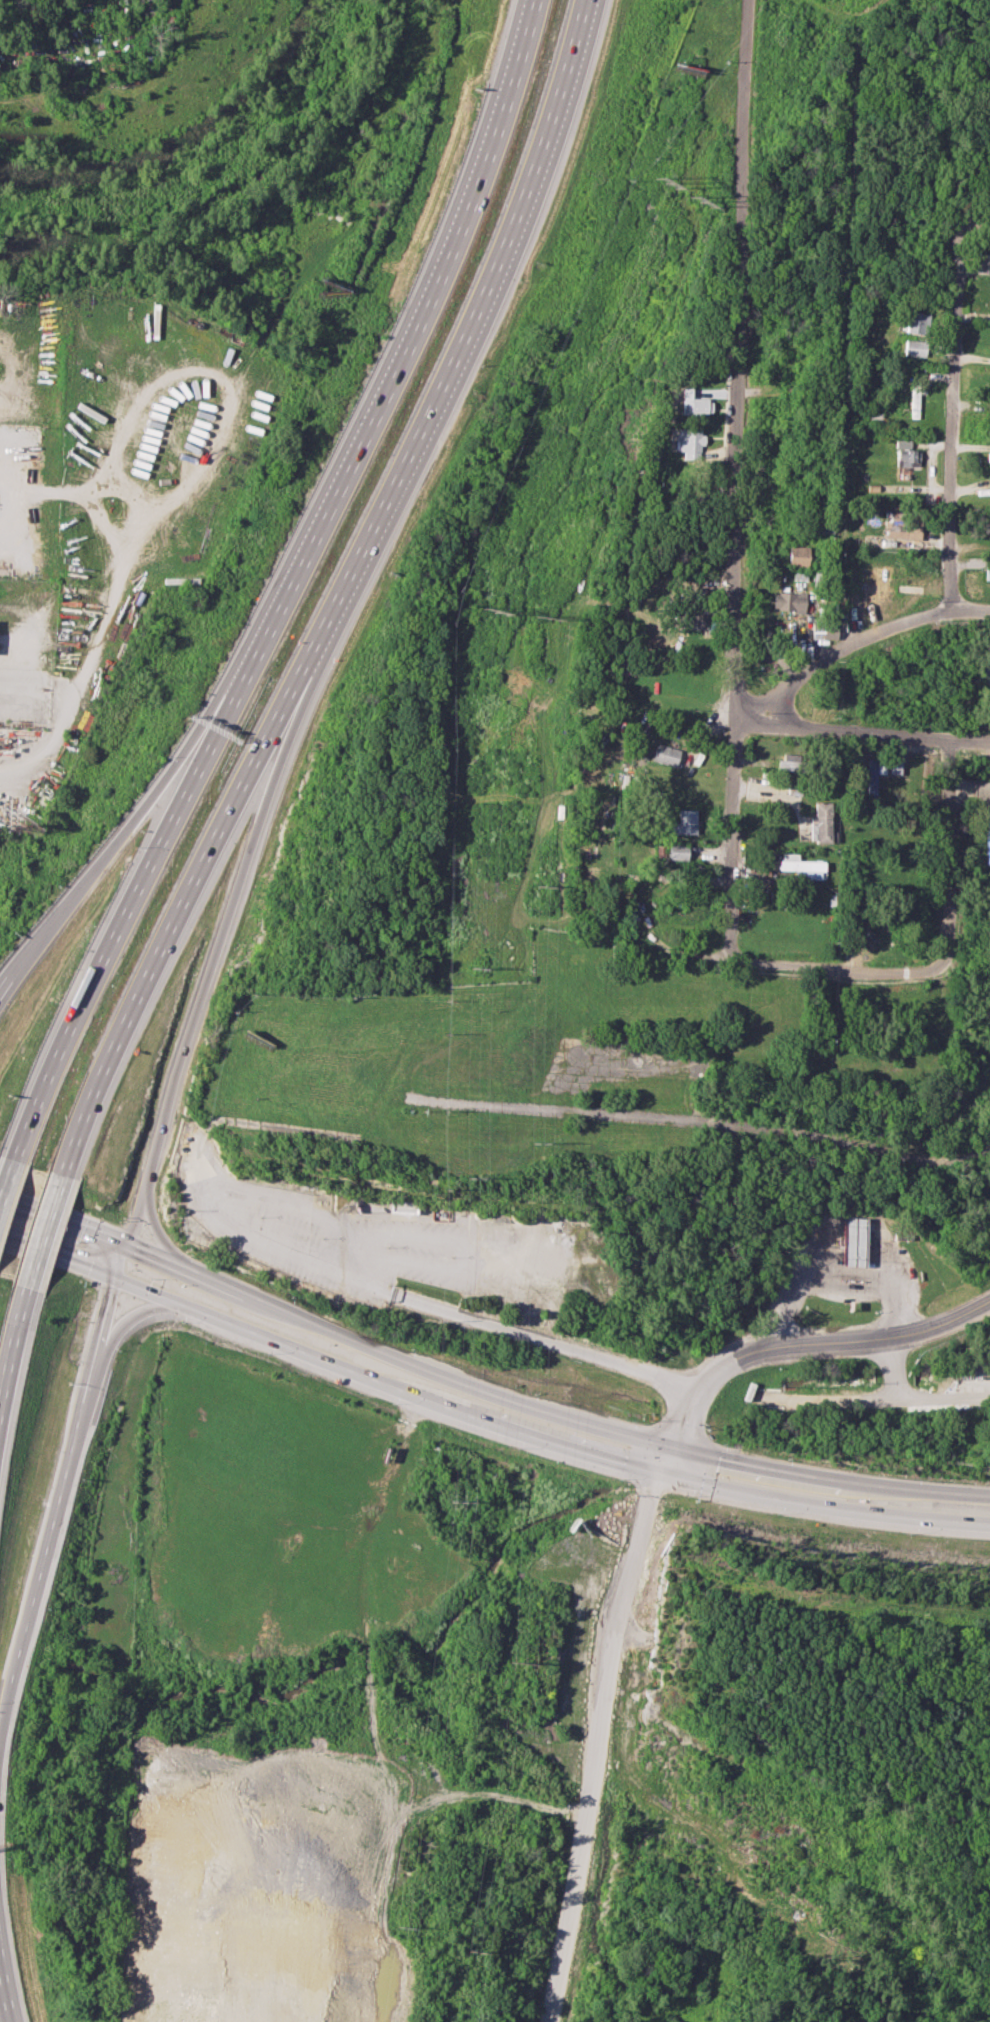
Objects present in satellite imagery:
power tower: (661, 183)
power tower: (701, 200)
building: (988, 260)
building: (916, 322)
road: (459, 341)
building: (914, 347)
road: (394, 364)
building: (914, 398)
building: (695, 403)
road: (952, 432)
building: (690, 441)
building: (905, 454)
building: (987, 457)
road: (738, 477)
building: (901, 528)
building: (797, 555)
building: (987, 574)
building: (788, 601)
power tower: (493, 606)
power tower: (548, 618)
building: (696, 620)
building: (823, 629)
road: (852, 642)
road: (861, 731)
building: (664, 754)
building: (786, 761)
building: (894, 766)
building: (871, 776)
building: (683, 822)
building: (819, 823)
building: (989, 840)
road: (109, 851)
building: (676, 851)
road: (953, 853)
building: (799, 866)
power tower: (543, 885)
road: (173, 920)
road: (118, 937)
power tower: (478, 967)
road: (836, 970)
road: (214, 974)
road: (699, 1121)
power tower: (536, 1144)
road: (5, 1176)
power tower: (468, 1176)
road: (288, 1204)
building: (402, 1205)
road: (153, 1227)
road: (41, 1231)
road: (258, 1240)
building: (856, 1242)
traffic signals: (124, 1243)
road: (466, 1247)
road: (57, 1256)
road: (634, 1258)
road: (839, 1273)
traffic signals: (115, 1275)
road: (107, 1310)
road: (132, 1313)
road: (9, 1329)
road: (330, 1330)
road: (533, 1337)
road: (837, 1342)
road: (891, 1369)
road: (384, 1384)
road: (944, 1397)
road: (838, 1400)
road: (676, 1417)
traffic signals: (667, 1447)
road: (664, 1460)
traffic signals: (661, 1473)
road: (827, 1477)
power tower: (461, 1501)
road: (824, 1506)
road: (49, 1528)
power tower: (517, 1663)
road: (596, 1745)
power tower: (406, 1927)
power tower: (472, 1951)
road: (5, 1994)

